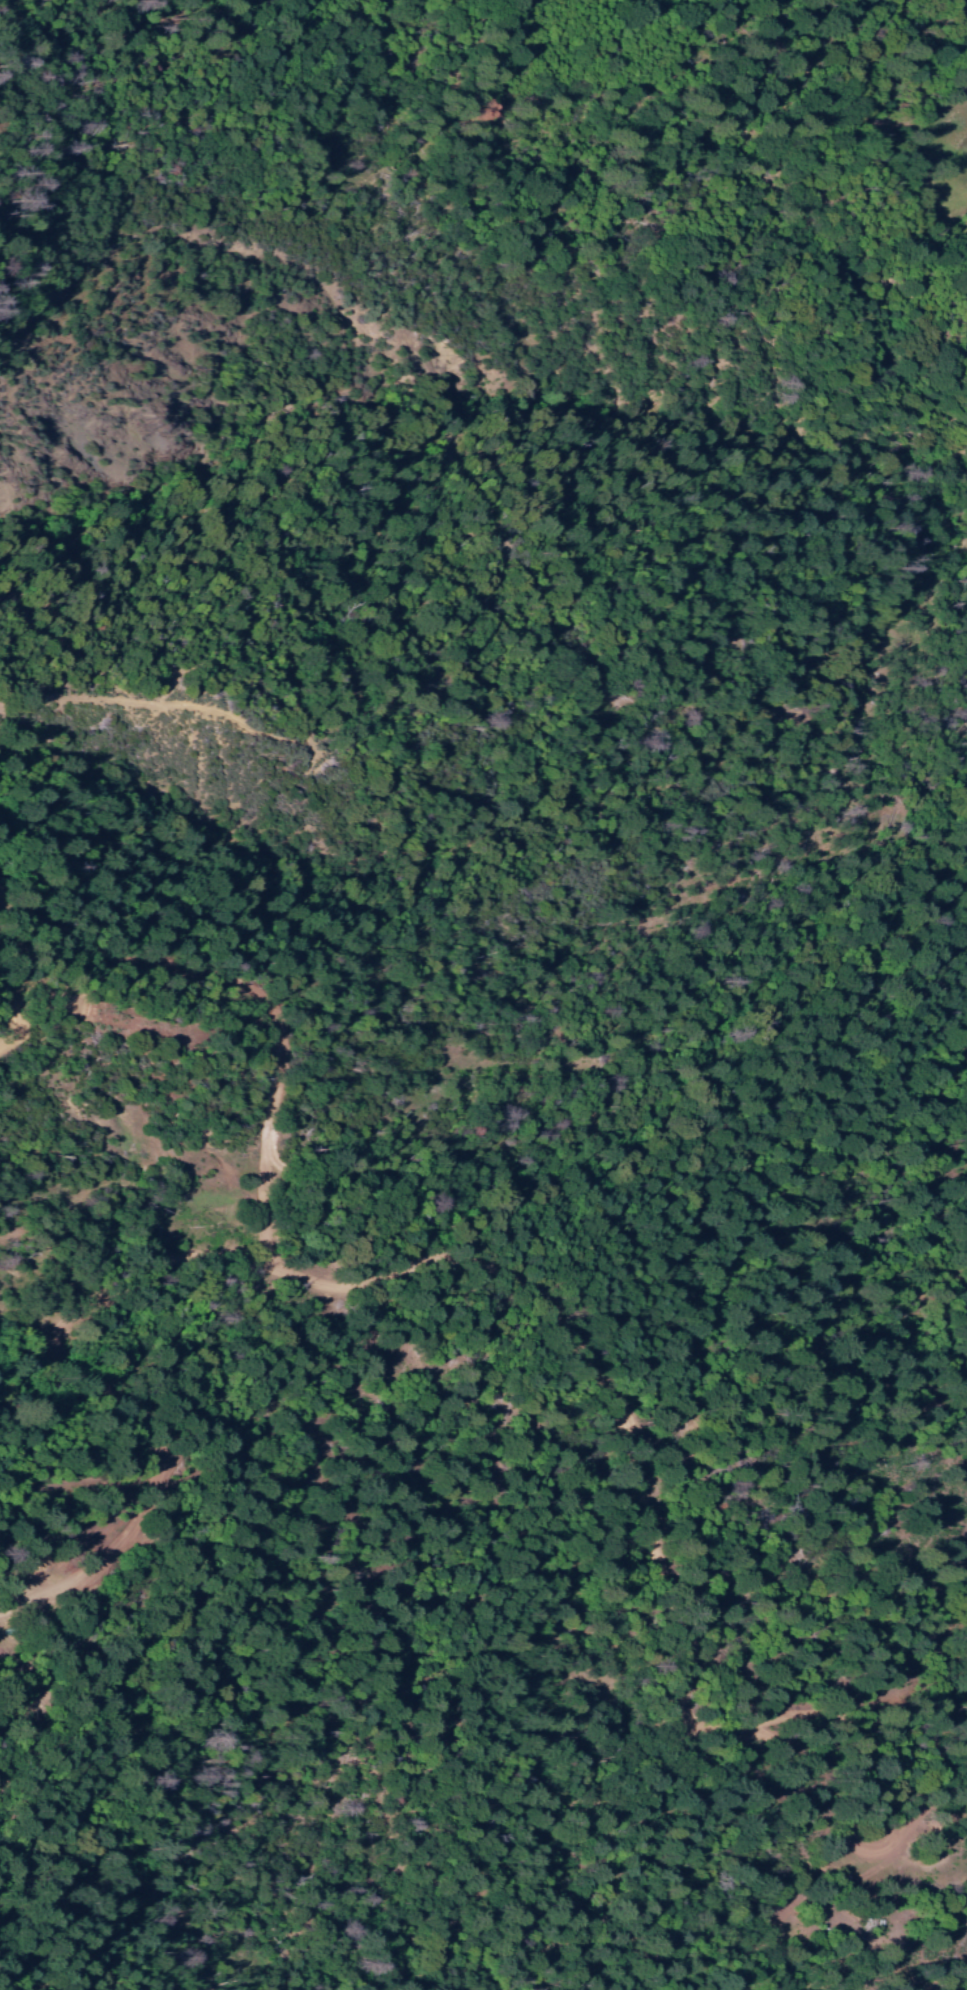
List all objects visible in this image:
road: (703, 493)
road: (180, 950)
road: (505, 1271)
road: (873, 1874)

